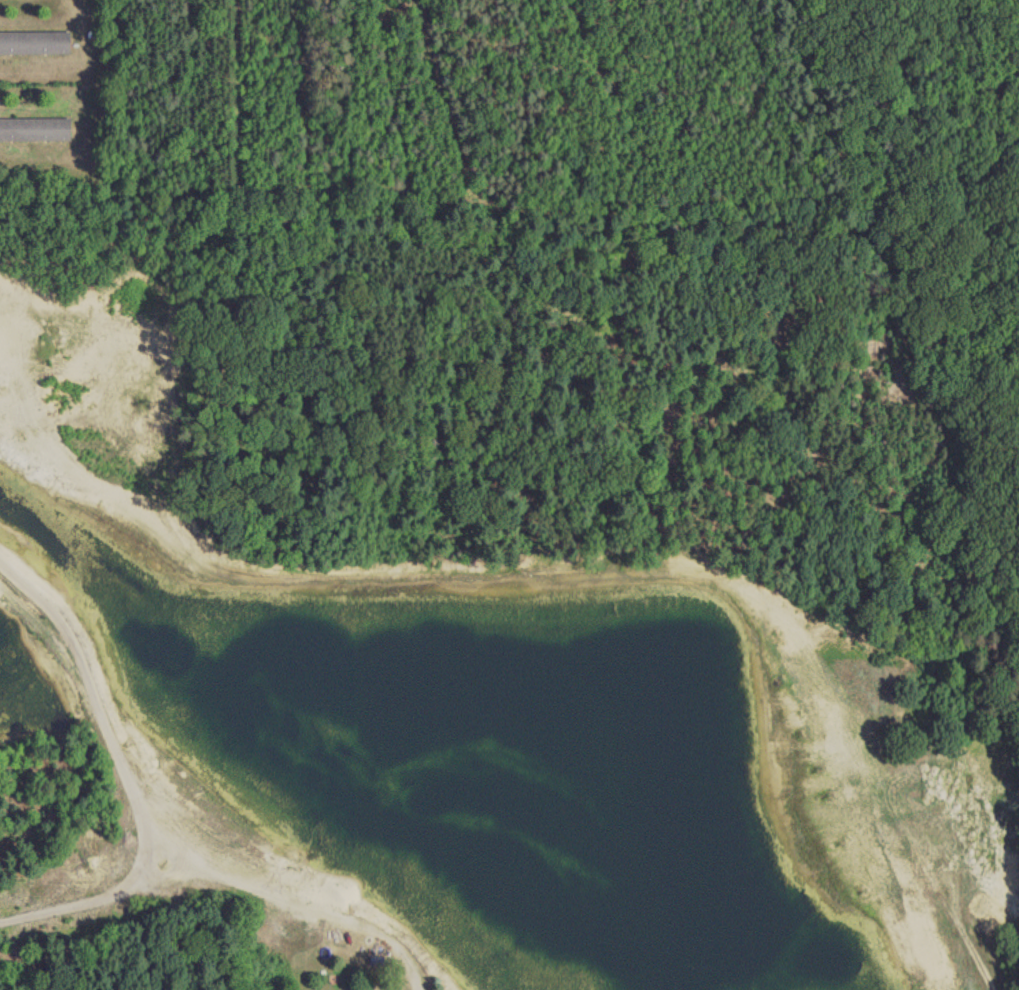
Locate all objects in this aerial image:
building: (34, 43)
crop: (51, 96)
building: (34, 130)
road: (156, 834)
road: (101, 903)

